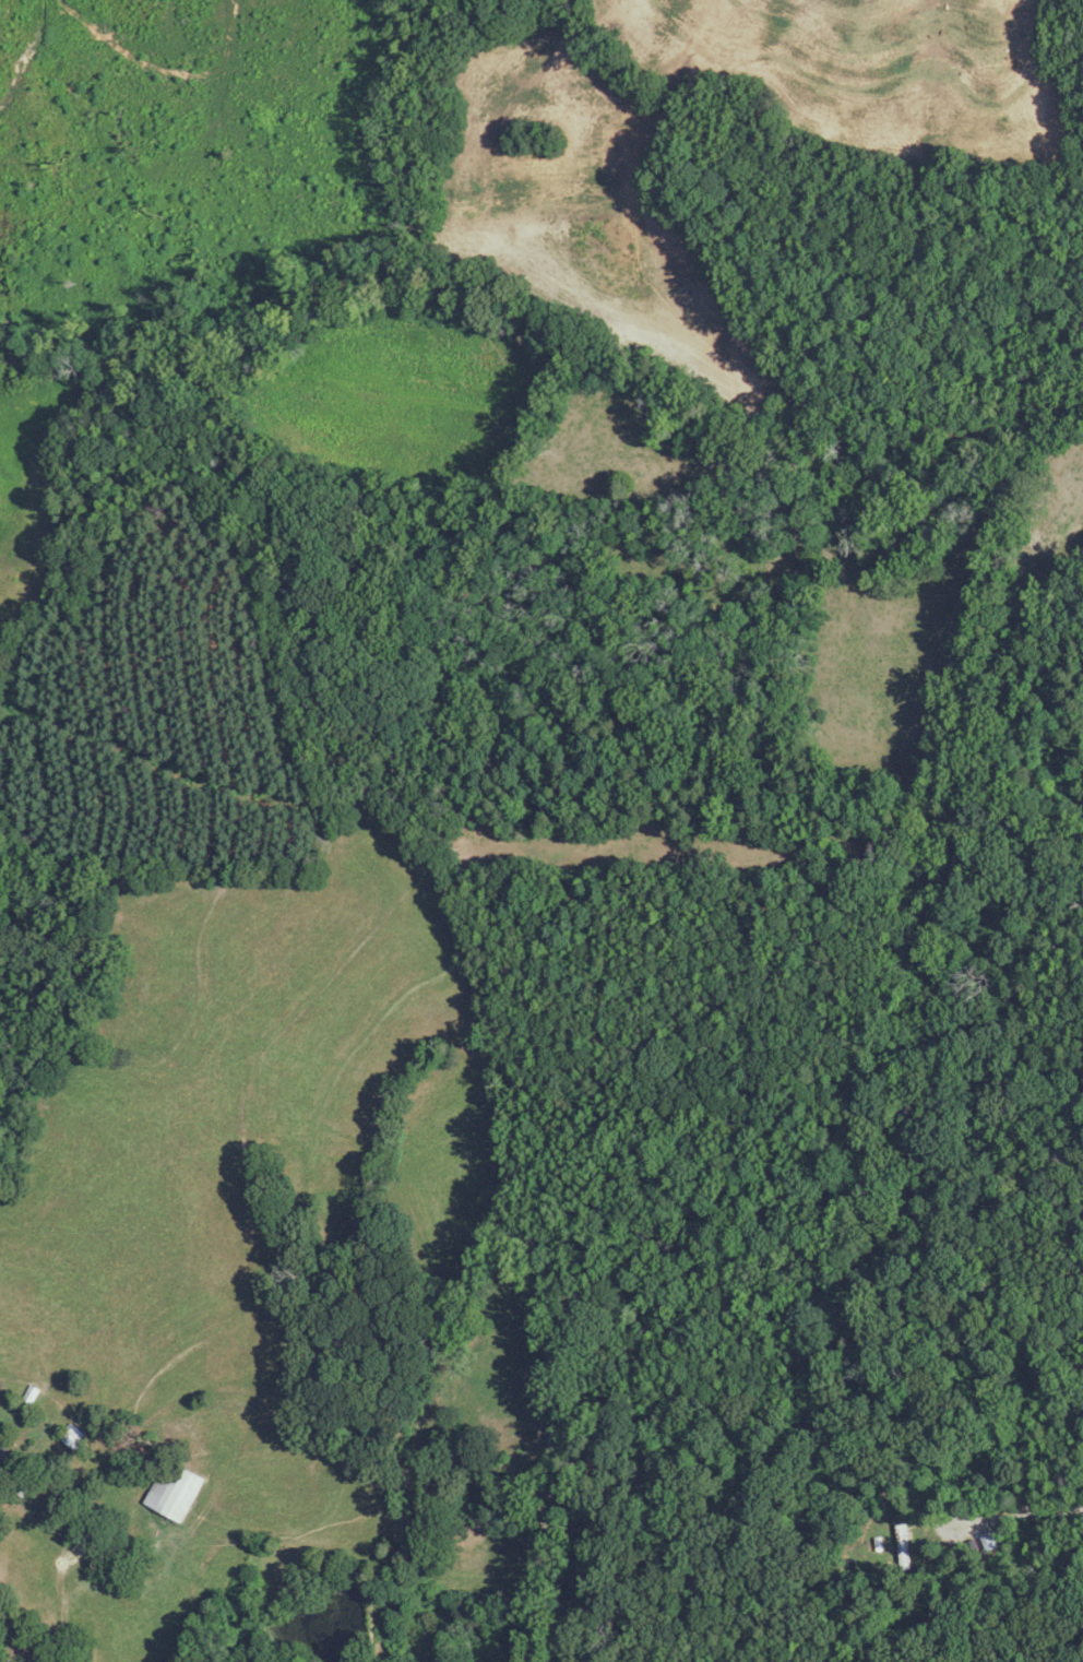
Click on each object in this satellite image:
building: (16, 593)
building: (31, 1399)
building: (74, 1439)
building: (176, 1492)
road: (1022, 1516)
building: (904, 1547)
road: (21, 1641)

